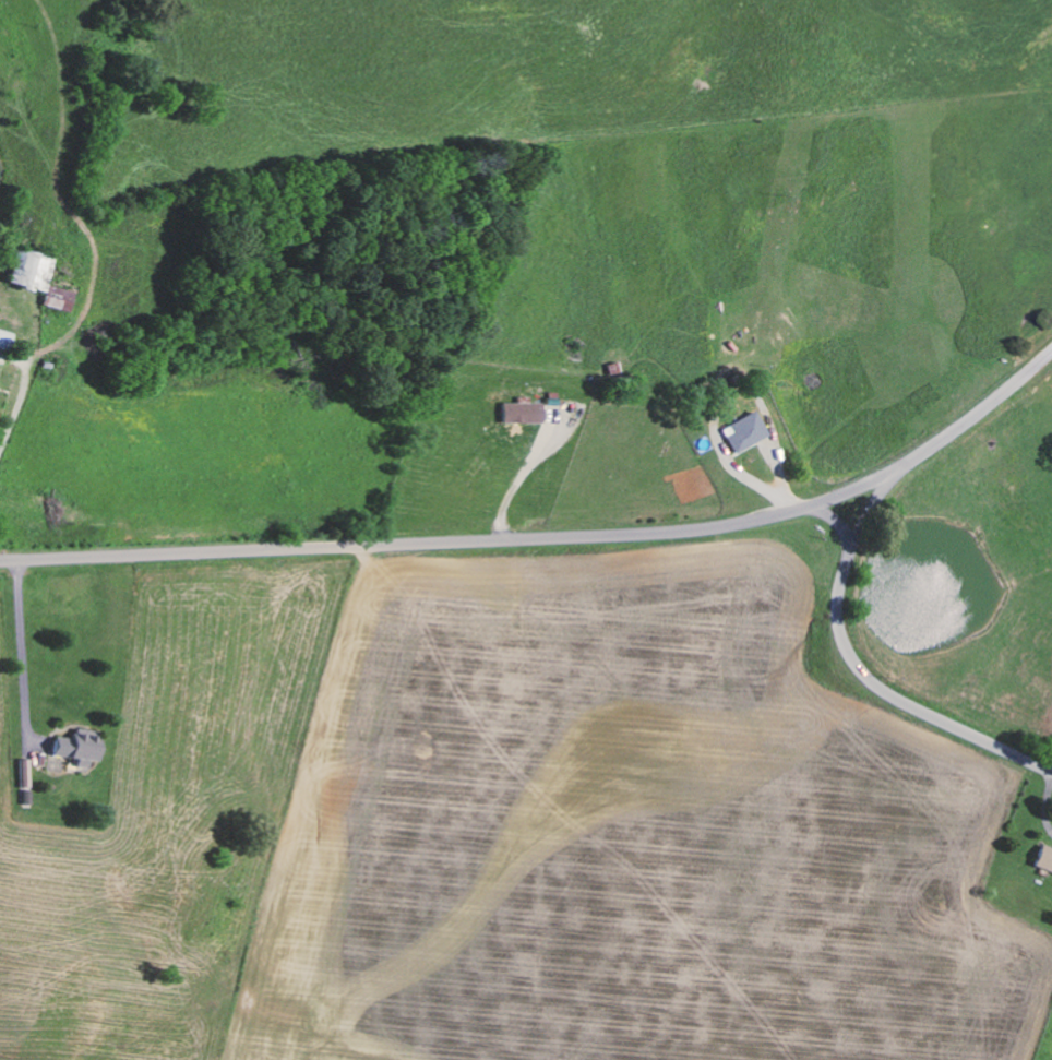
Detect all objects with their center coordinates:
building: (39, 277)
building: (5, 338)
building: (524, 410)
building: (744, 430)
road: (873, 502)
road: (550, 537)
road: (872, 680)
building: (77, 746)
building: (1044, 857)

